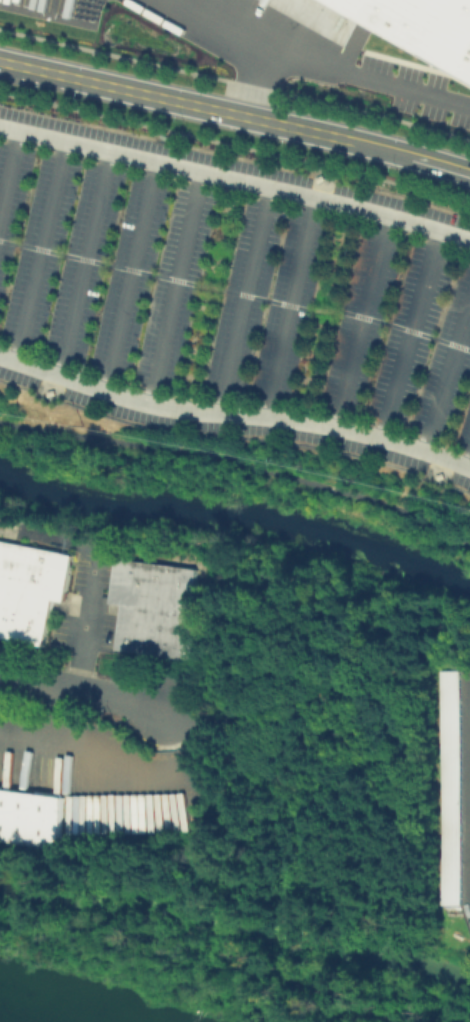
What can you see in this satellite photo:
building: (421, 27)
road: (329, 66)
road: (254, 75)
road: (235, 115)
road: (9, 174)
building: (318, 177)
road: (236, 179)
road: (41, 250)
road: (84, 263)
road: (130, 276)
road: (176, 288)
parking lot: (233, 296)
road: (245, 299)
road: (291, 306)
road: (362, 320)
road: (410, 334)
road: (446, 380)
building: (50, 391)
road: (234, 412)
road: (467, 460)
road: (240, 462)
building: (441, 477)
building: (31, 590)
building: (158, 604)
road: (91, 633)
road: (102, 695)
road: (59, 718)
building: (447, 787)
building: (27, 817)

